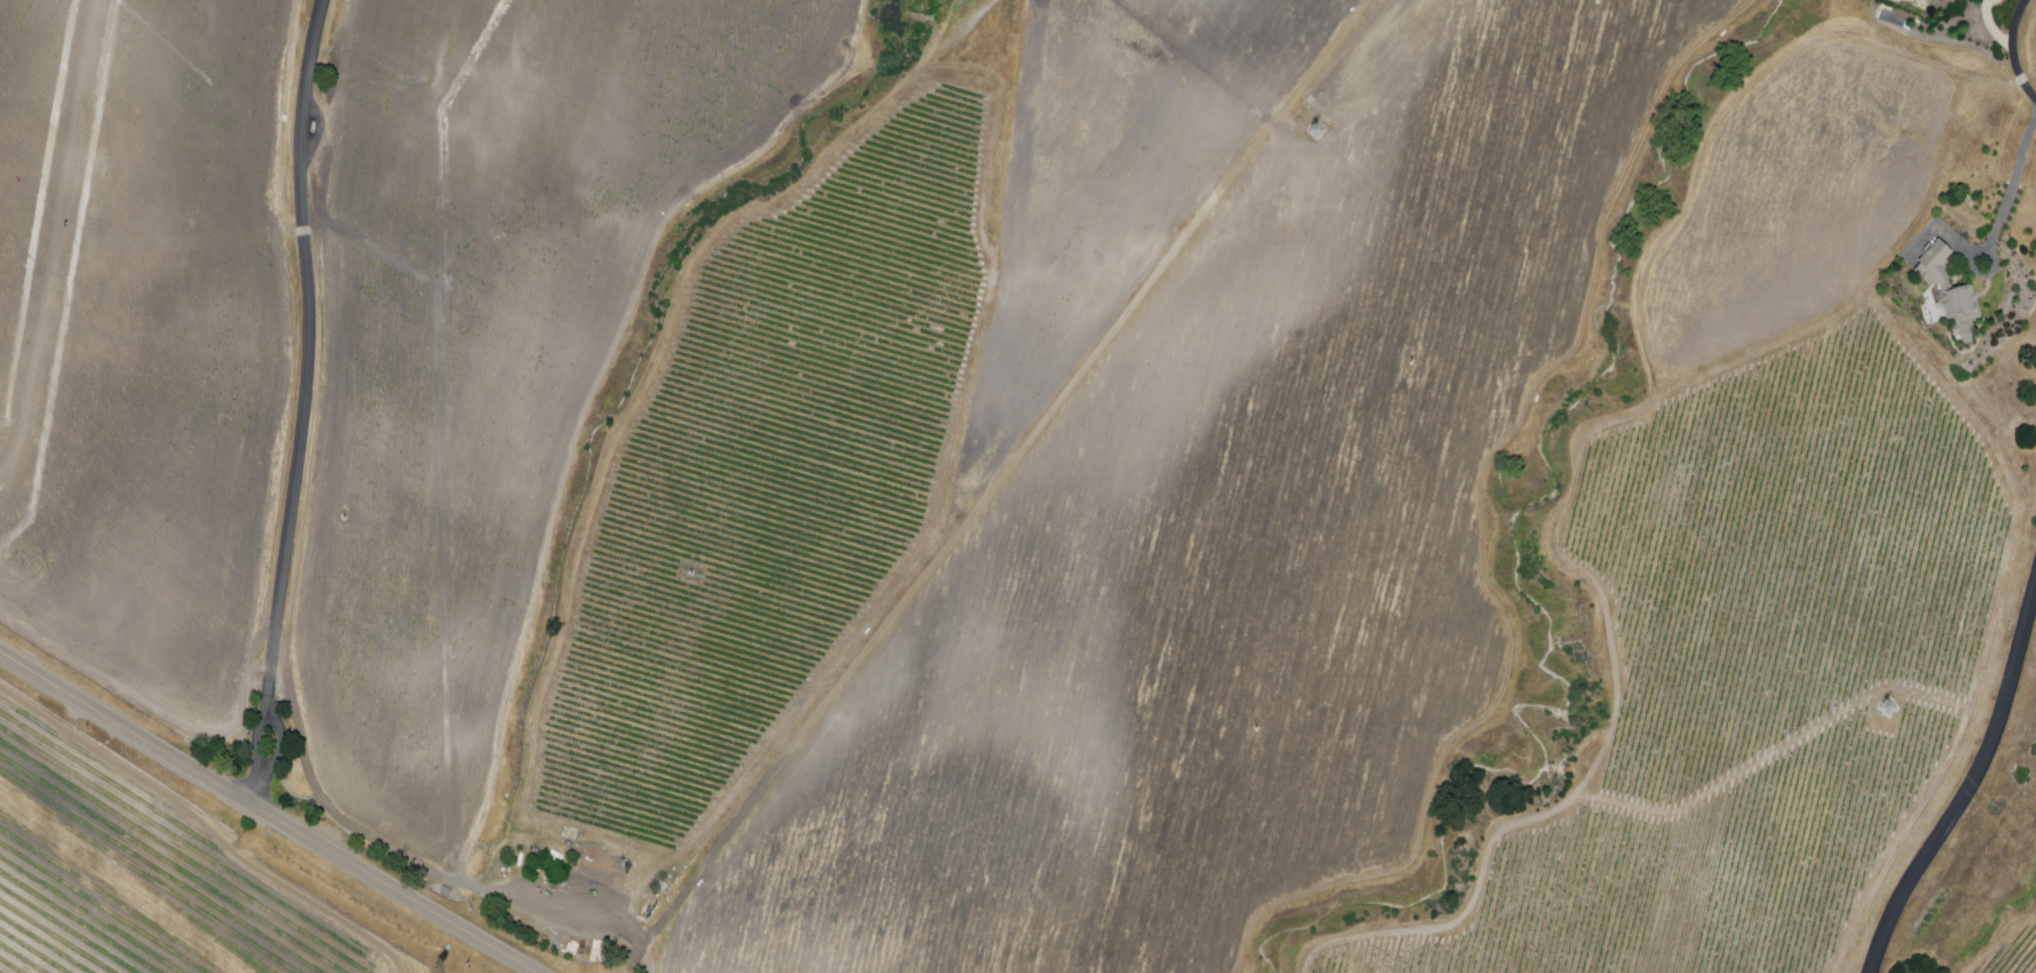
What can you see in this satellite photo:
road: (2015, 50)
power tower: (1318, 133)
road: (2016, 188)
building: (1952, 293)
road: (306, 393)
road: (999, 486)
power tower: (1890, 716)
road: (269, 762)
road: (1970, 781)
road: (264, 814)

